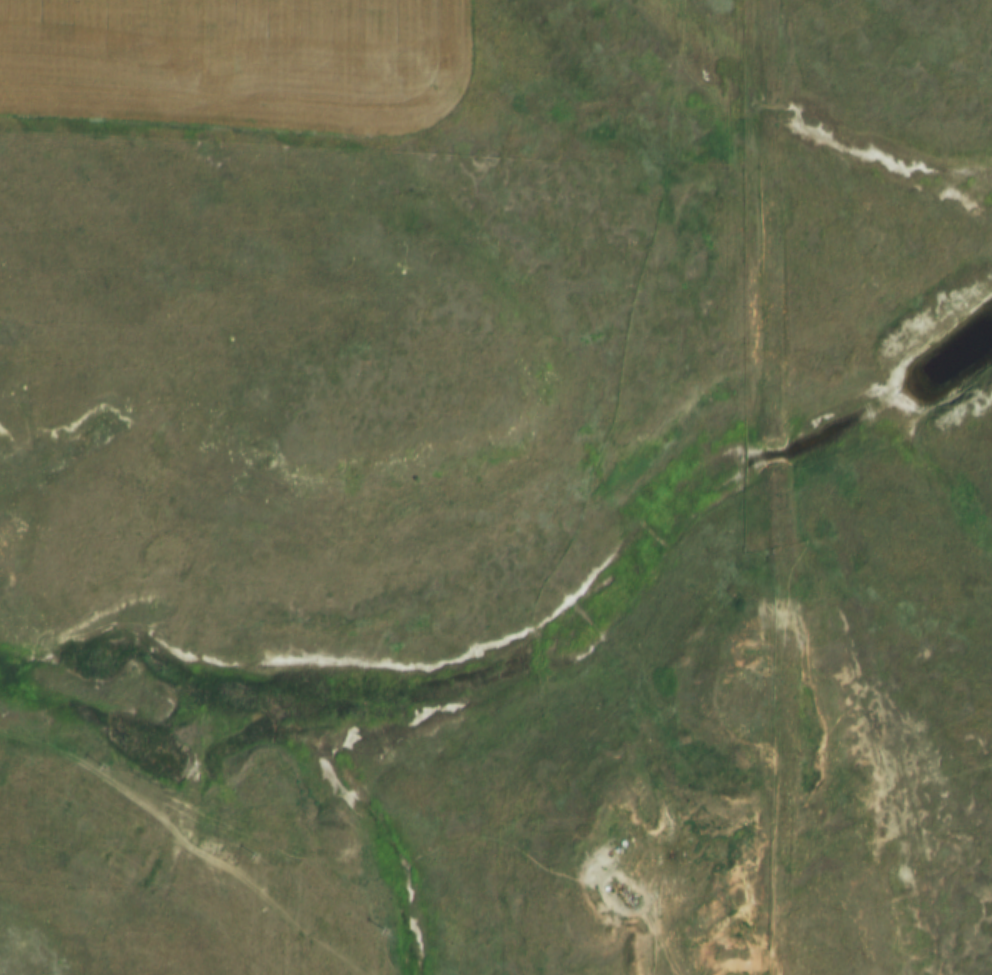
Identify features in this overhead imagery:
road: (180, 841)

